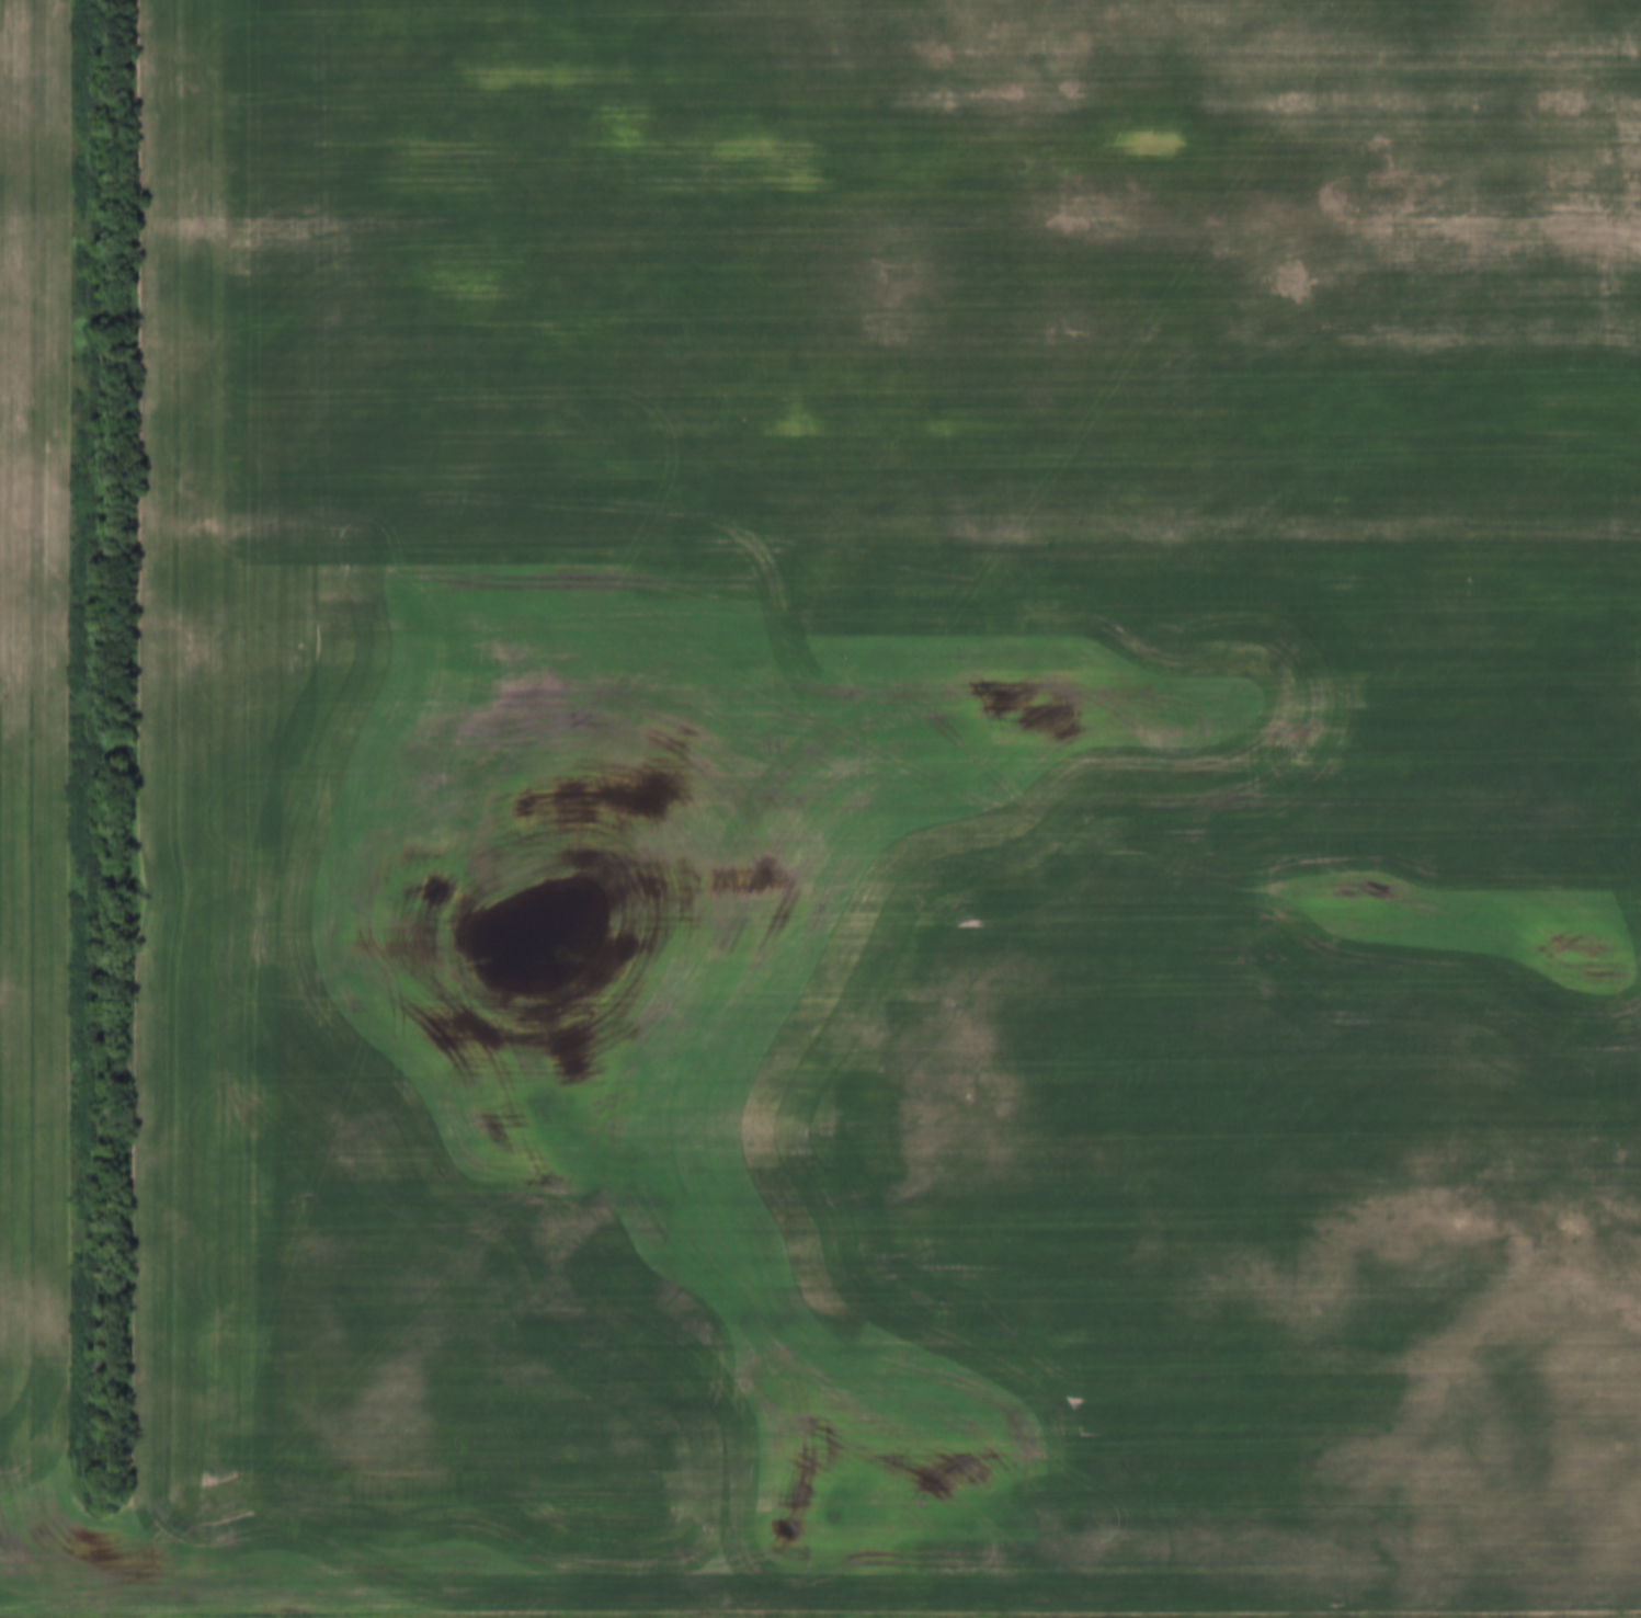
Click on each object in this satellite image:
road: (820, 1599)

